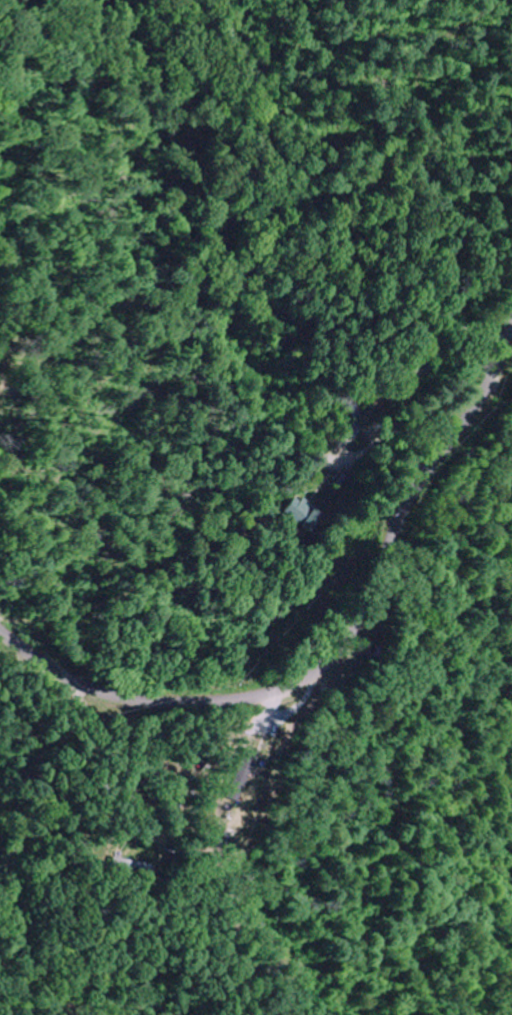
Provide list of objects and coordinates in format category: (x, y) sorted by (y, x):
building: (330, 463)
road: (341, 646)

